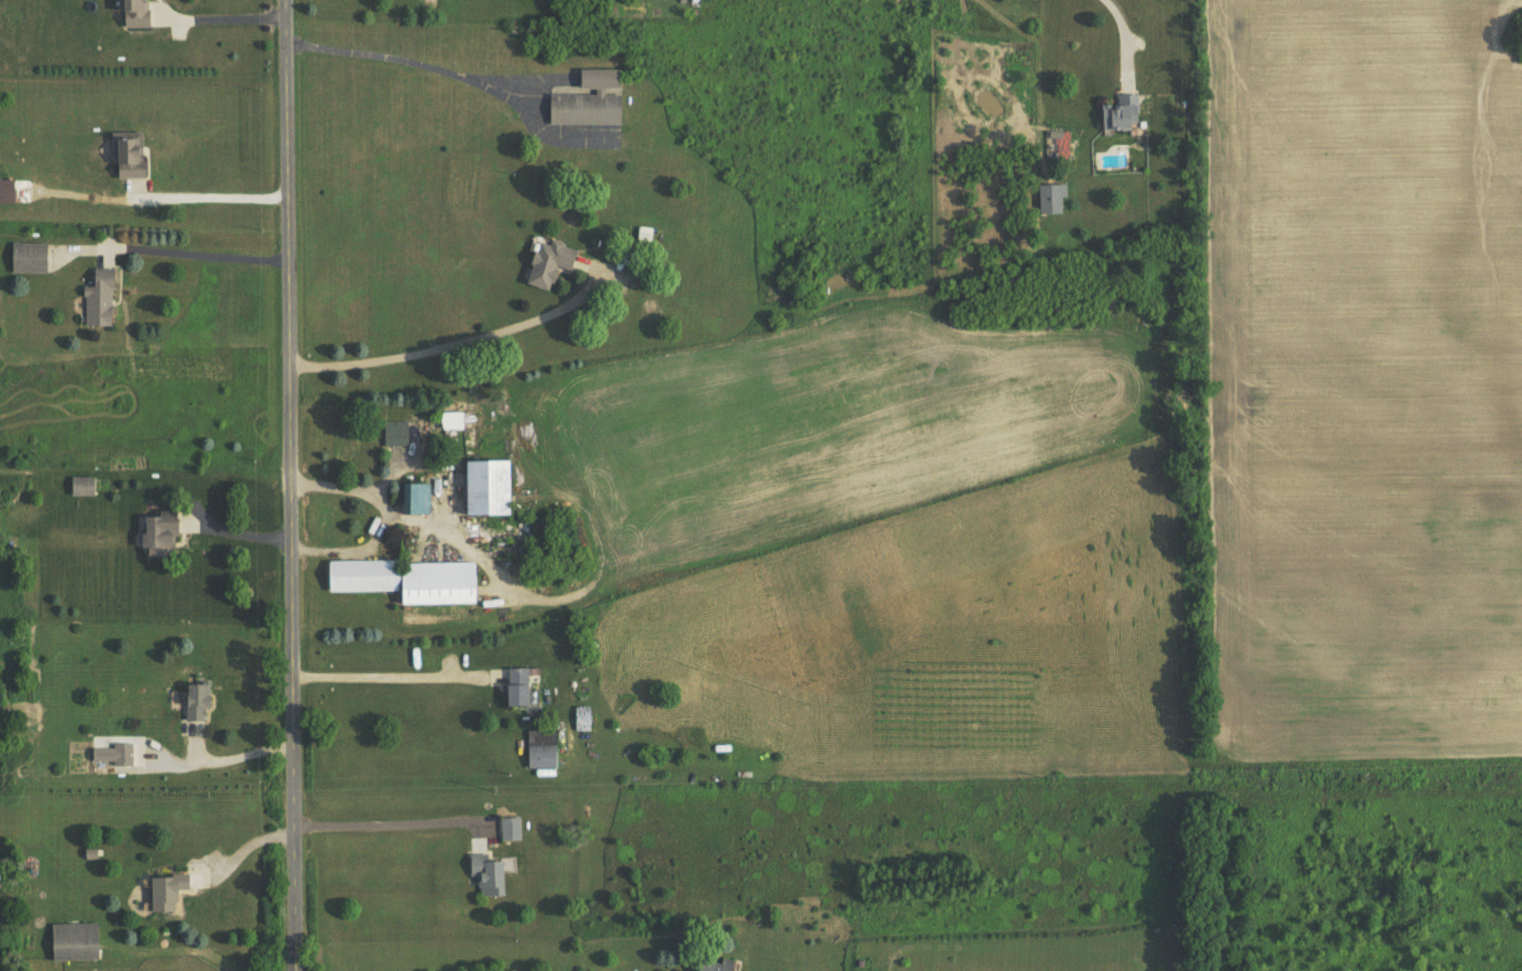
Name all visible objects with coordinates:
building: (138, 13)
road: (227, 16)
road: (1122, 24)
road: (409, 54)
building: (586, 102)
building: (1118, 113)
building: (131, 155)
road: (210, 186)
building: (7, 191)
road: (204, 245)
building: (30, 258)
building: (546, 263)
building: (103, 298)
road: (443, 340)
road: (292, 485)
building: (83, 486)
building: (490, 489)
building: (409, 498)
road: (384, 510)
road: (236, 531)
building: (163, 533)
building: (411, 581)
road: (385, 667)
building: (524, 686)
building: (199, 700)
road: (232, 751)
building: (123, 754)
building: (543, 757)
road: (377, 818)
road: (245, 839)
building: (491, 874)
building: (169, 892)
building: (75, 941)
building: (717, 966)

